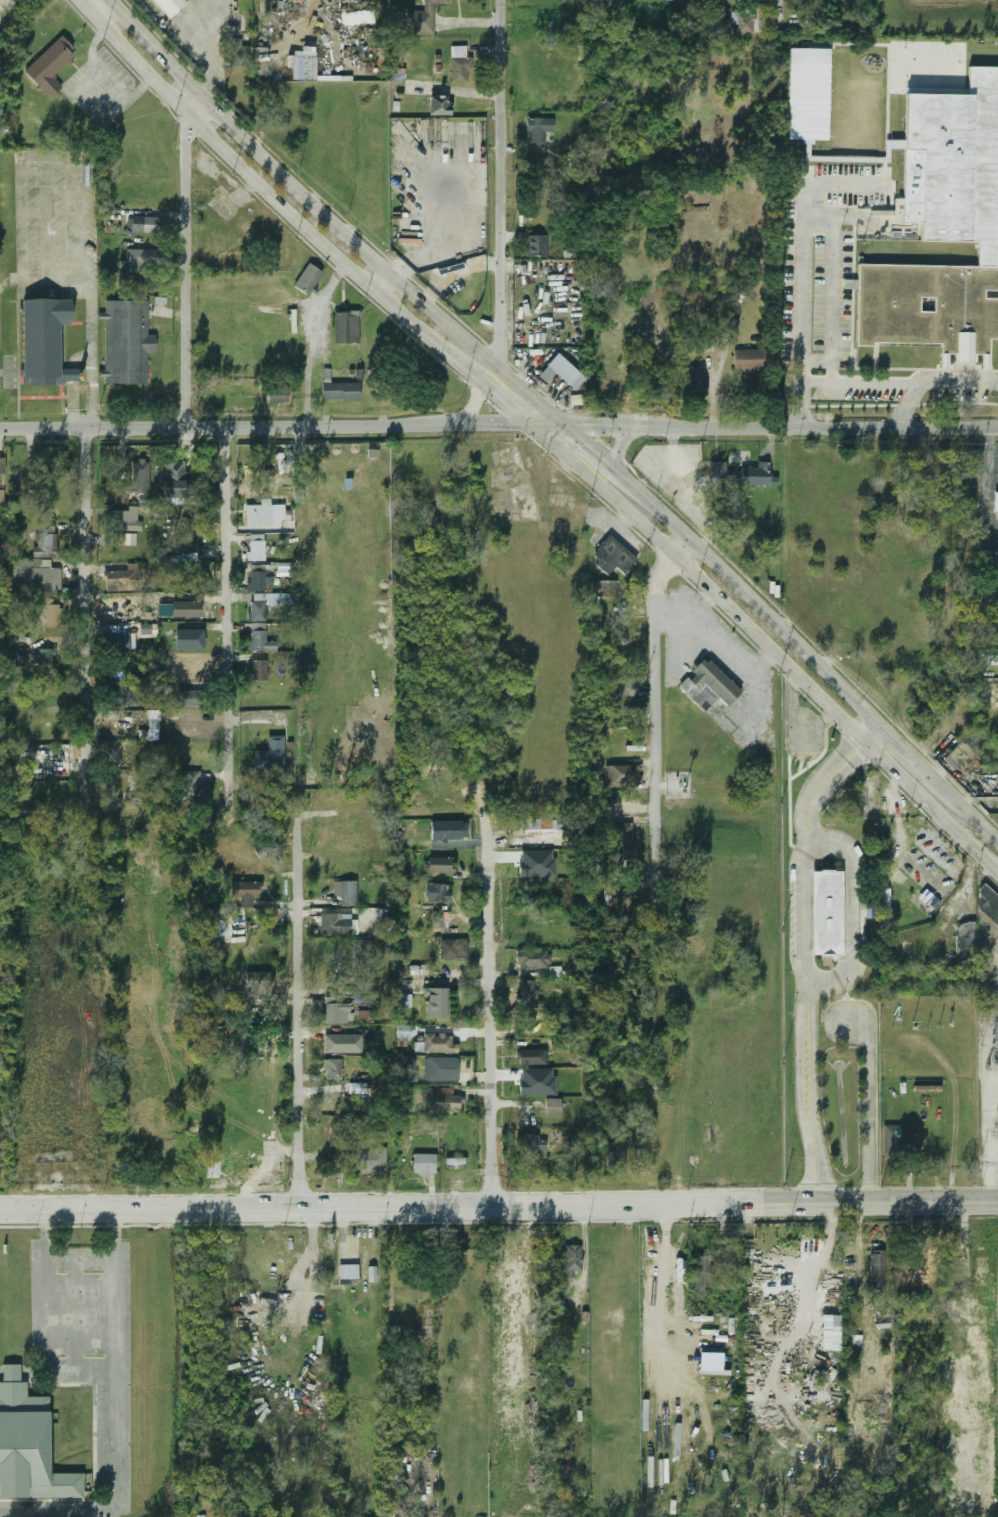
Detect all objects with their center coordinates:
building: (168, 6)
building: (368, 17)
building: (421, 18)
building: (743, 23)
building: (723, 26)
road: (793, 31)
road: (186, 45)
building: (239, 53)
building: (49, 66)
building: (458, 69)
building: (809, 95)
building: (438, 106)
building: (536, 130)
road: (499, 181)
road: (334, 216)
road: (296, 219)
building: (143, 224)
building: (942, 228)
road: (803, 234)
building: (535, 246)
road: (185, 260)
building: (135, 261)
building: (307, 279)
building: (731, 325)
building: (346, 328)
building: (43, 343)
building: (124, 343)
road: (312, 343)
road: (92, 357)
building: (748, 359)
building: (558, 369)
road: (953, 378)
building: (696, 382)
road: (855, 383)
building: (338, 390)
building: (276, 396)
road: (909, 404)
road: (470, 408)
road: (500, 425)
traffic signals: (527, 425)
road: (546, 425)
traffic signals: (566, 425)
road: (458, 426)
road: (606, 426)
road: (822, 426)
road: (221, 428)
road: (619, 442)
building: (54, 462)
building: (1, 466)
building: (755, 476)
building: (138, 477)
building: (173, 478)
road: (988, 489)
building: (256, 516)
building: (592, 517)
building: (125, 520)
building: (120, 539)
building: (43, 540)
building: (181, 544)
building: (255, 548)
building: (612, 556)
road: (724, 574)
building: (33, 577)
road: (698, 579)
building: (121, 580)
building: (255, 580)
building: (605, 589)
building: (278, 598)
building: (183, 609)
building: (255, 609)
building: (51, 614)
road: (229, 618)
road: (88, 621)
building: (191, 637)
building: (258, 639)
building: (121, 642)
building: (43, 658)
building: (119, 670)
building: (257, 670)
road: (780, 671)
building: (712, 682)
road: (793, 684)
building: (616, 687)
building: (121, 695)
building: (188, 698)
road: (811, 702)
road: (658, 710)
road: (827, 718)
road: (798, 720)
road: (836, 727)
road: (787, 729)
road: (871, 735)
road: (857, 747)
road: (824, 751)
building: (269, 754)
building: (956, 755)
road: (795, 759)
road: (916, 764)
building: (620, 773)
building: (123, 782)
building: (192, 785)
road: (817, 788)
road: (790, 799)
road: (928, 806)
road: (975, 821)
building: (539, 823)
road: (935, 825)
building: (623, 836)
road: (792, 845)
building: (263, 846)
road: (805, 853)
building: (537, 863)
building: (608, 863)
building: (439, 865)
road: (821, 866)
road: (995, 872)
building: (243, 889)
building: (436, 893)
building: (347, 894)
building: (615, 898)
building: (988, 903)
road: (826, 912)
road: (798, 913)
building: (825, 913)
road: (851, 916)
building: (439, 920)
road: (826, 920)
building: (333, 925)
building: (216, 928)
building: (963, 940)
building: (452, 948)
building: (361, 956)
building: (531, 960)
building: (256, 980)
road: (839, 980)
building: (528, 995)
building: (402, 1000)
road: (830, 1001)
building: (436, 1004)
building: (336, 1014)
road: (299, 1015)
building: (366, 1015)
road: (495, 1016)
building: (404, 1031)
building: (330, 1041)
building: (240, 1043)
building: (439, 1043)
building: (531, 1058)
building: (331, 1069)
building: (439, 1069)
building: (537, 1081)
building: (358, 1088)
road: (804, 1092)
power substation: (986, 1097)
building: (444, 1100)
road: (867, 1103)
building: (551, 1107)
building: (898, 1139)
road: (876, 1142)
building: (530, 1145)
building: (615, 1157)
building: (367, 1158)
building: (453, 1162)
building: (423, 1164)
building: (212, 1169)
road: (817, 1188)
road: (859, 1188)
road: (395, 1194)
road: (907, 1201)
road: (742, 1204)
road: (333, 1209)
road: (665, 1245)
road: (57, 1255)
building: (571, 1261)
building: (921, 1263)
building: (875, 1269)
building: (348, 1271)
road: (818, 1272)
building: (702, 1275)
building: (831, 1332)
road: (113, 1414)
building: (27, 1445)

